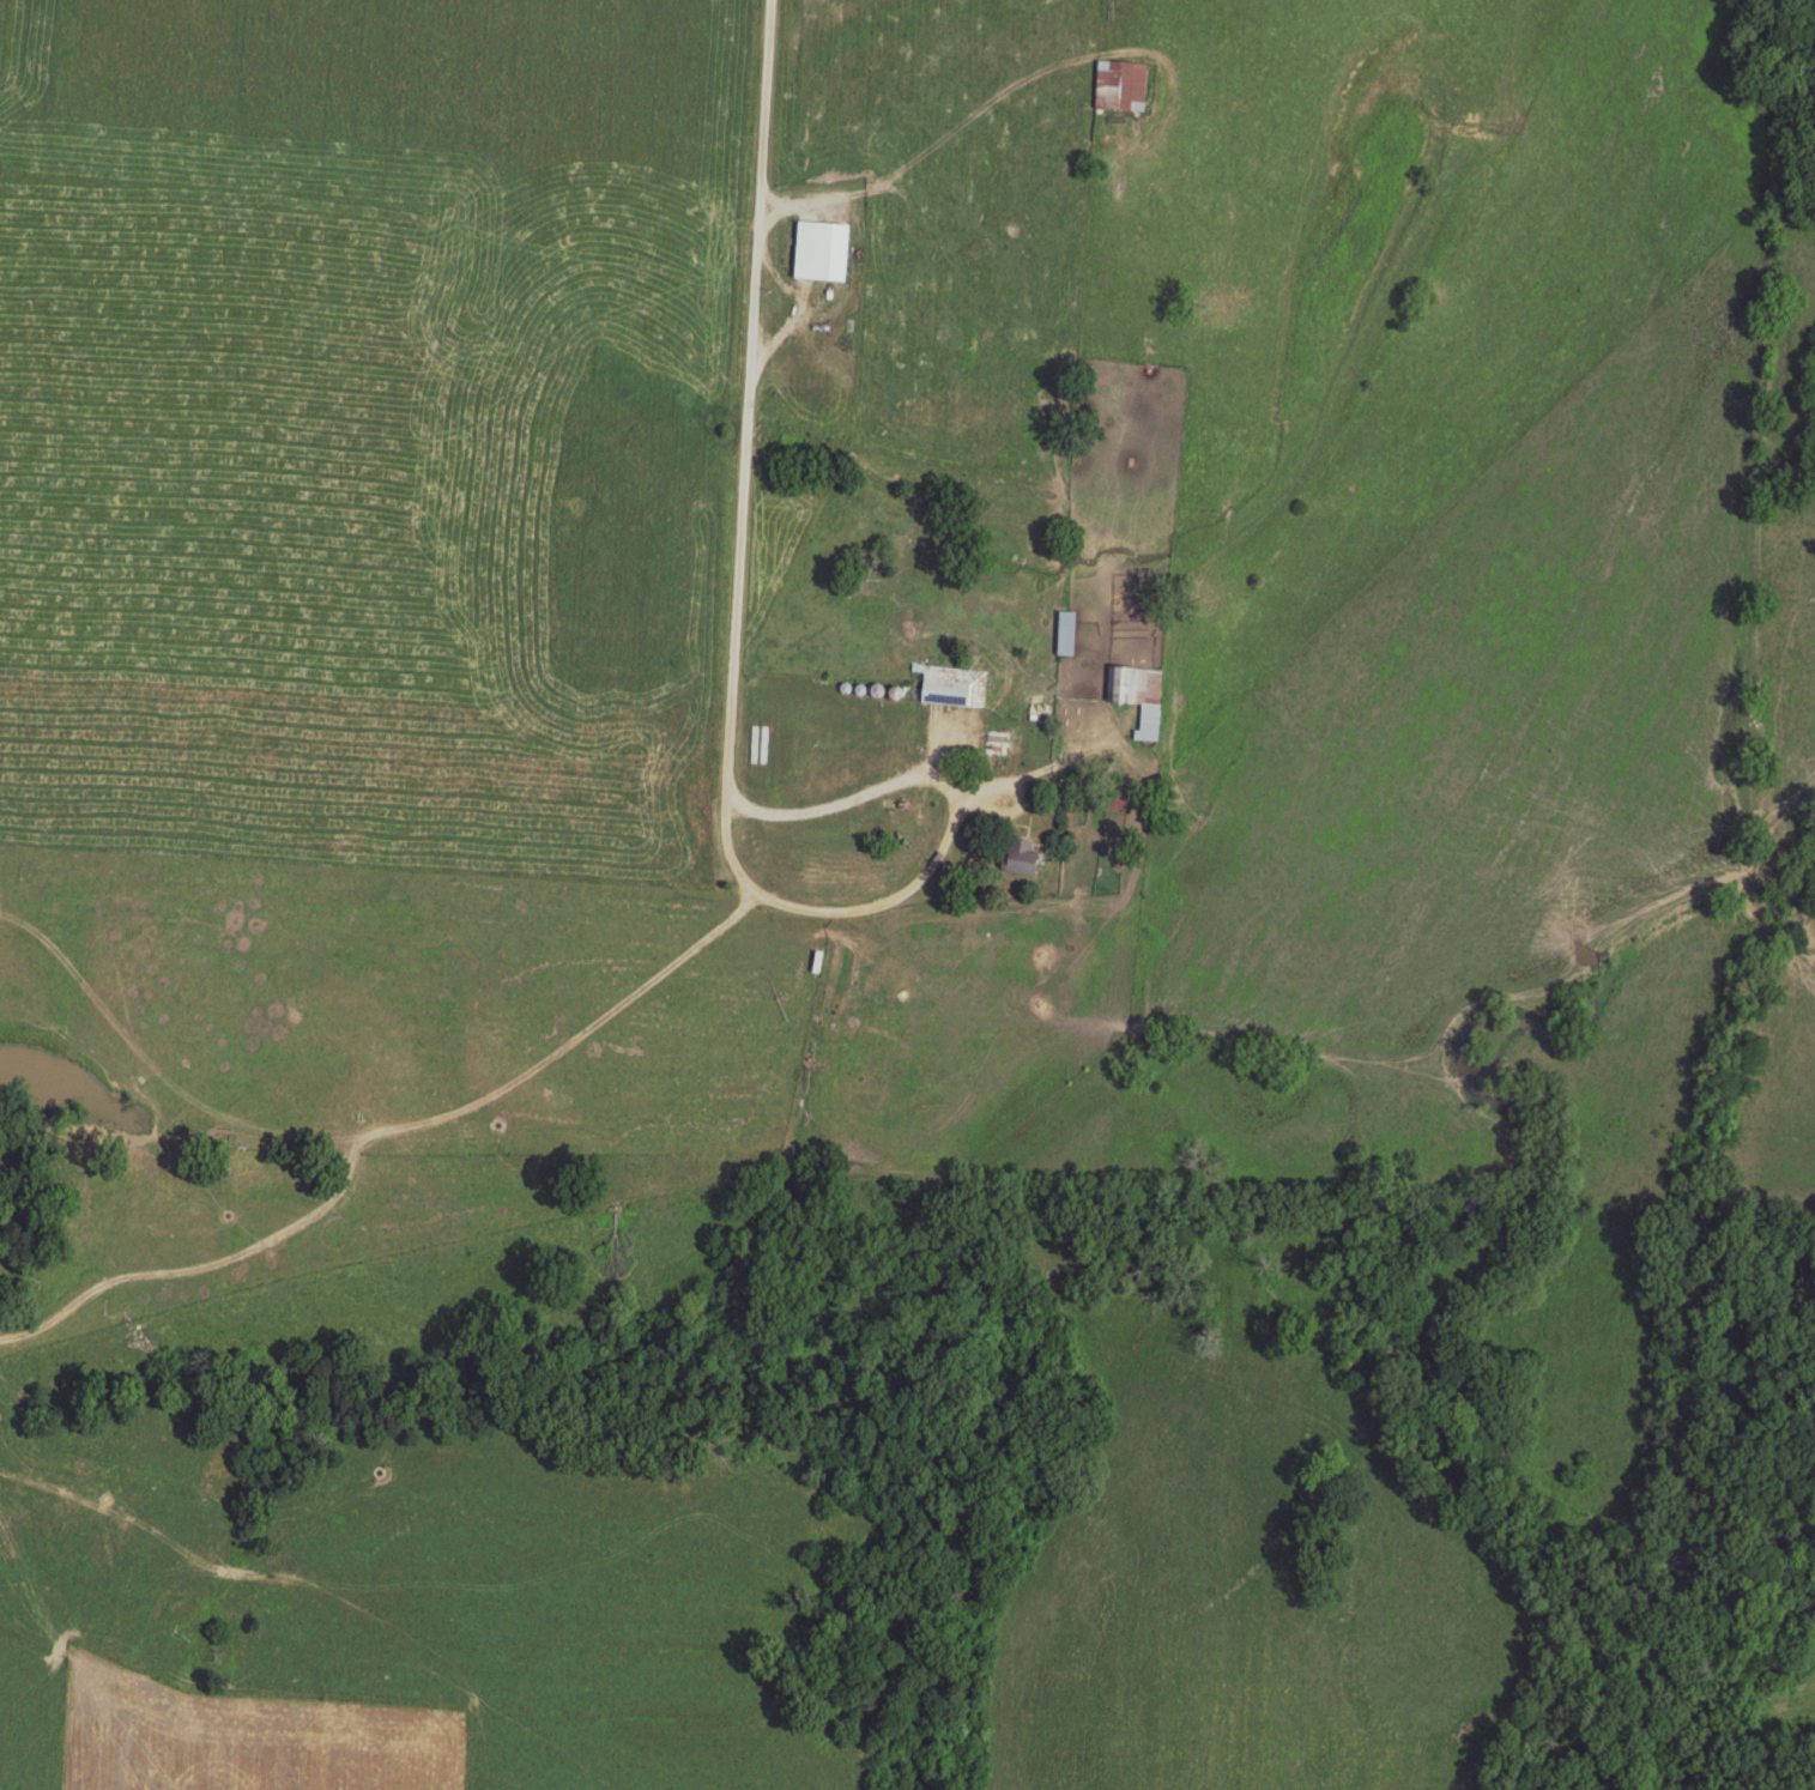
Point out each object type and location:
building: (1119, 85)
road: (967, 117)
building: (819, 249)
building: (1064, 631)
road: (732, 653)
building: (951, 684)
building: (1137, 694)
building: (960, 739)
building: (1000, 742)
building: (1017, 855)
road: (373, 1135)
road: (200, 1268)

